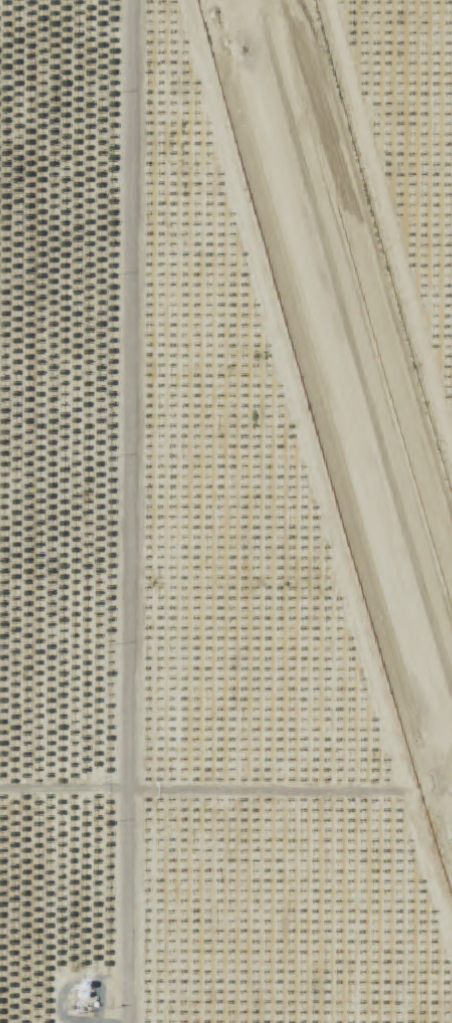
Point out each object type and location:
railway: (341, 389)
railway: (335, 405)
road: (129, 511)
road: (197, 800)

